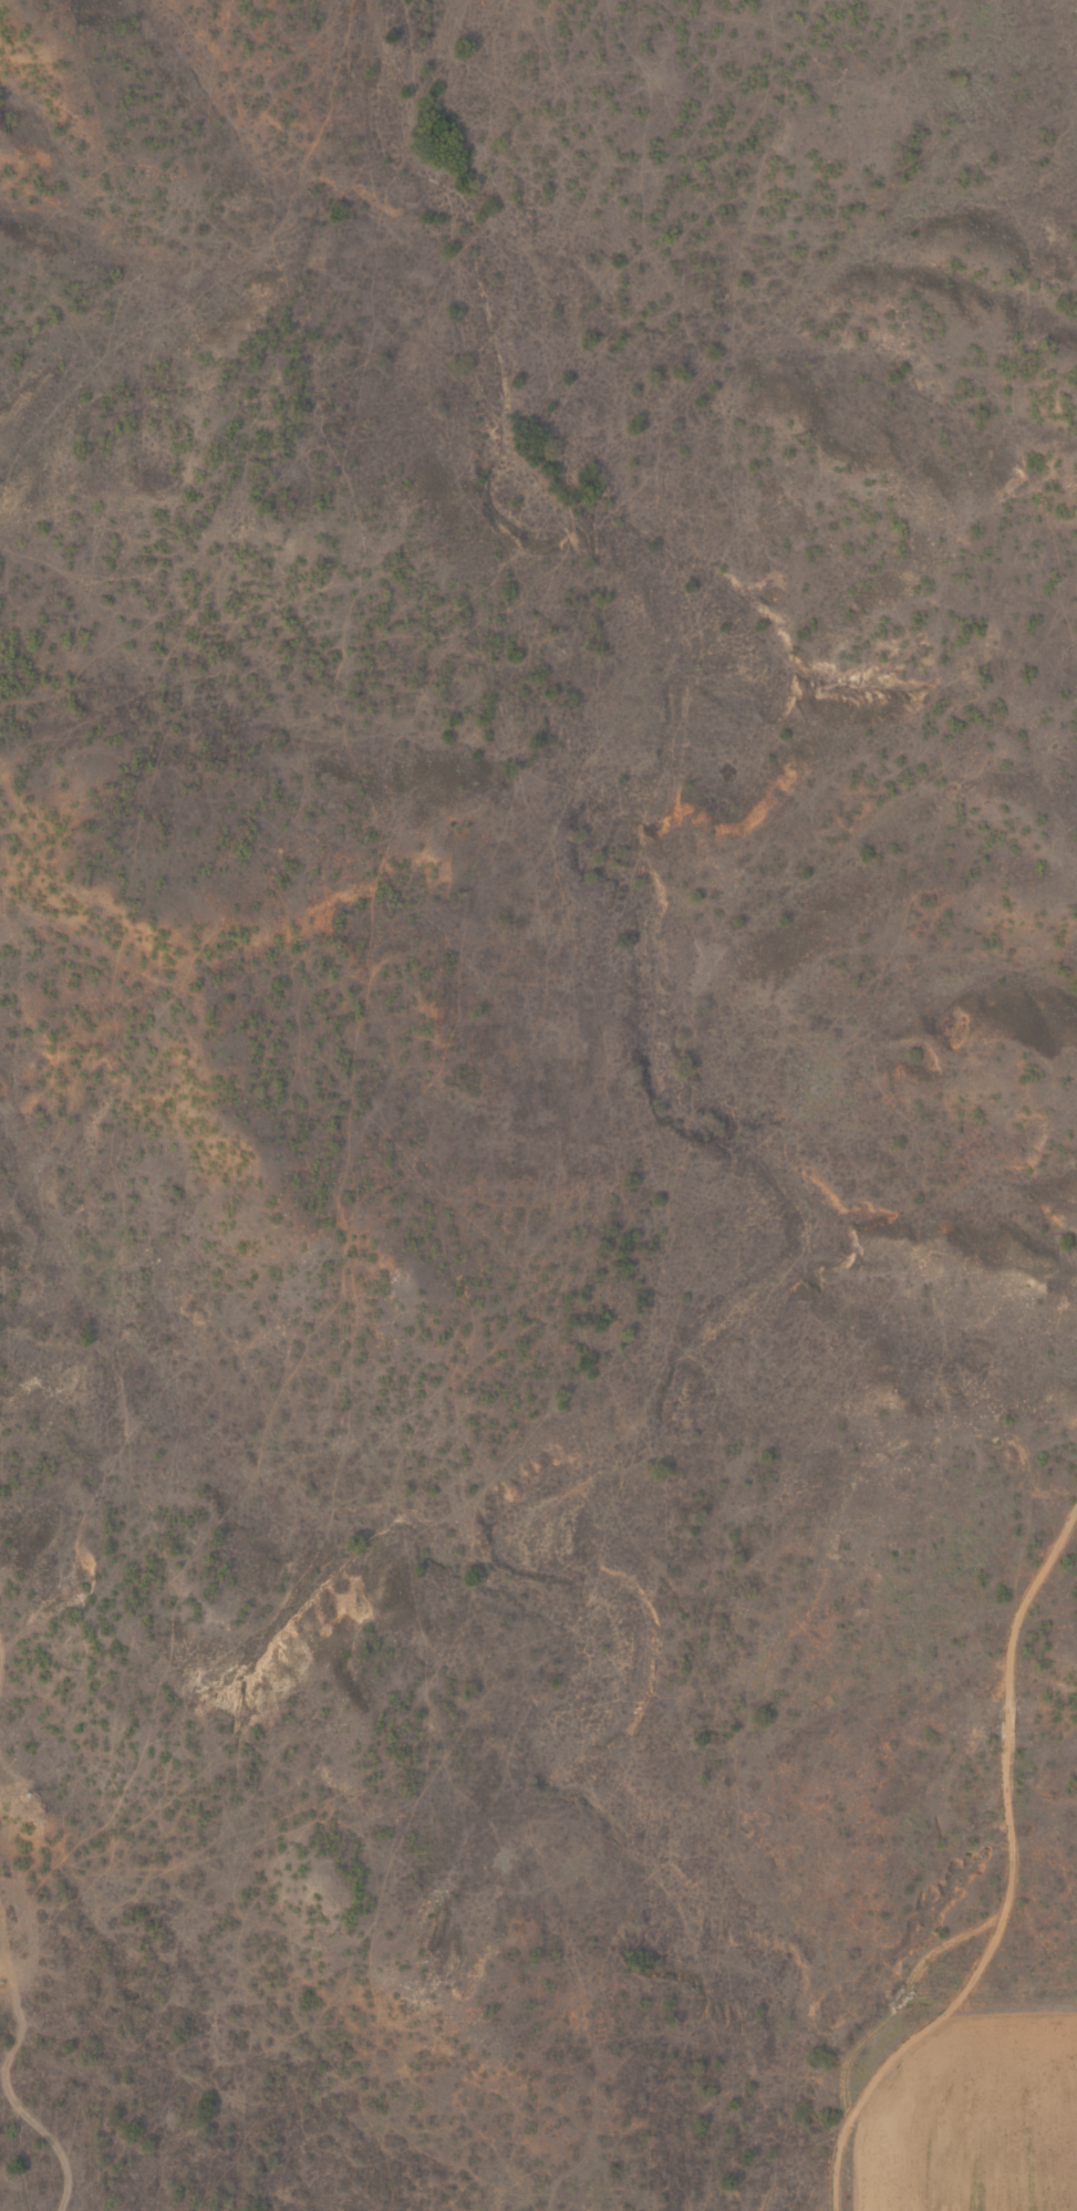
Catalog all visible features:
road: (934, 1810)

